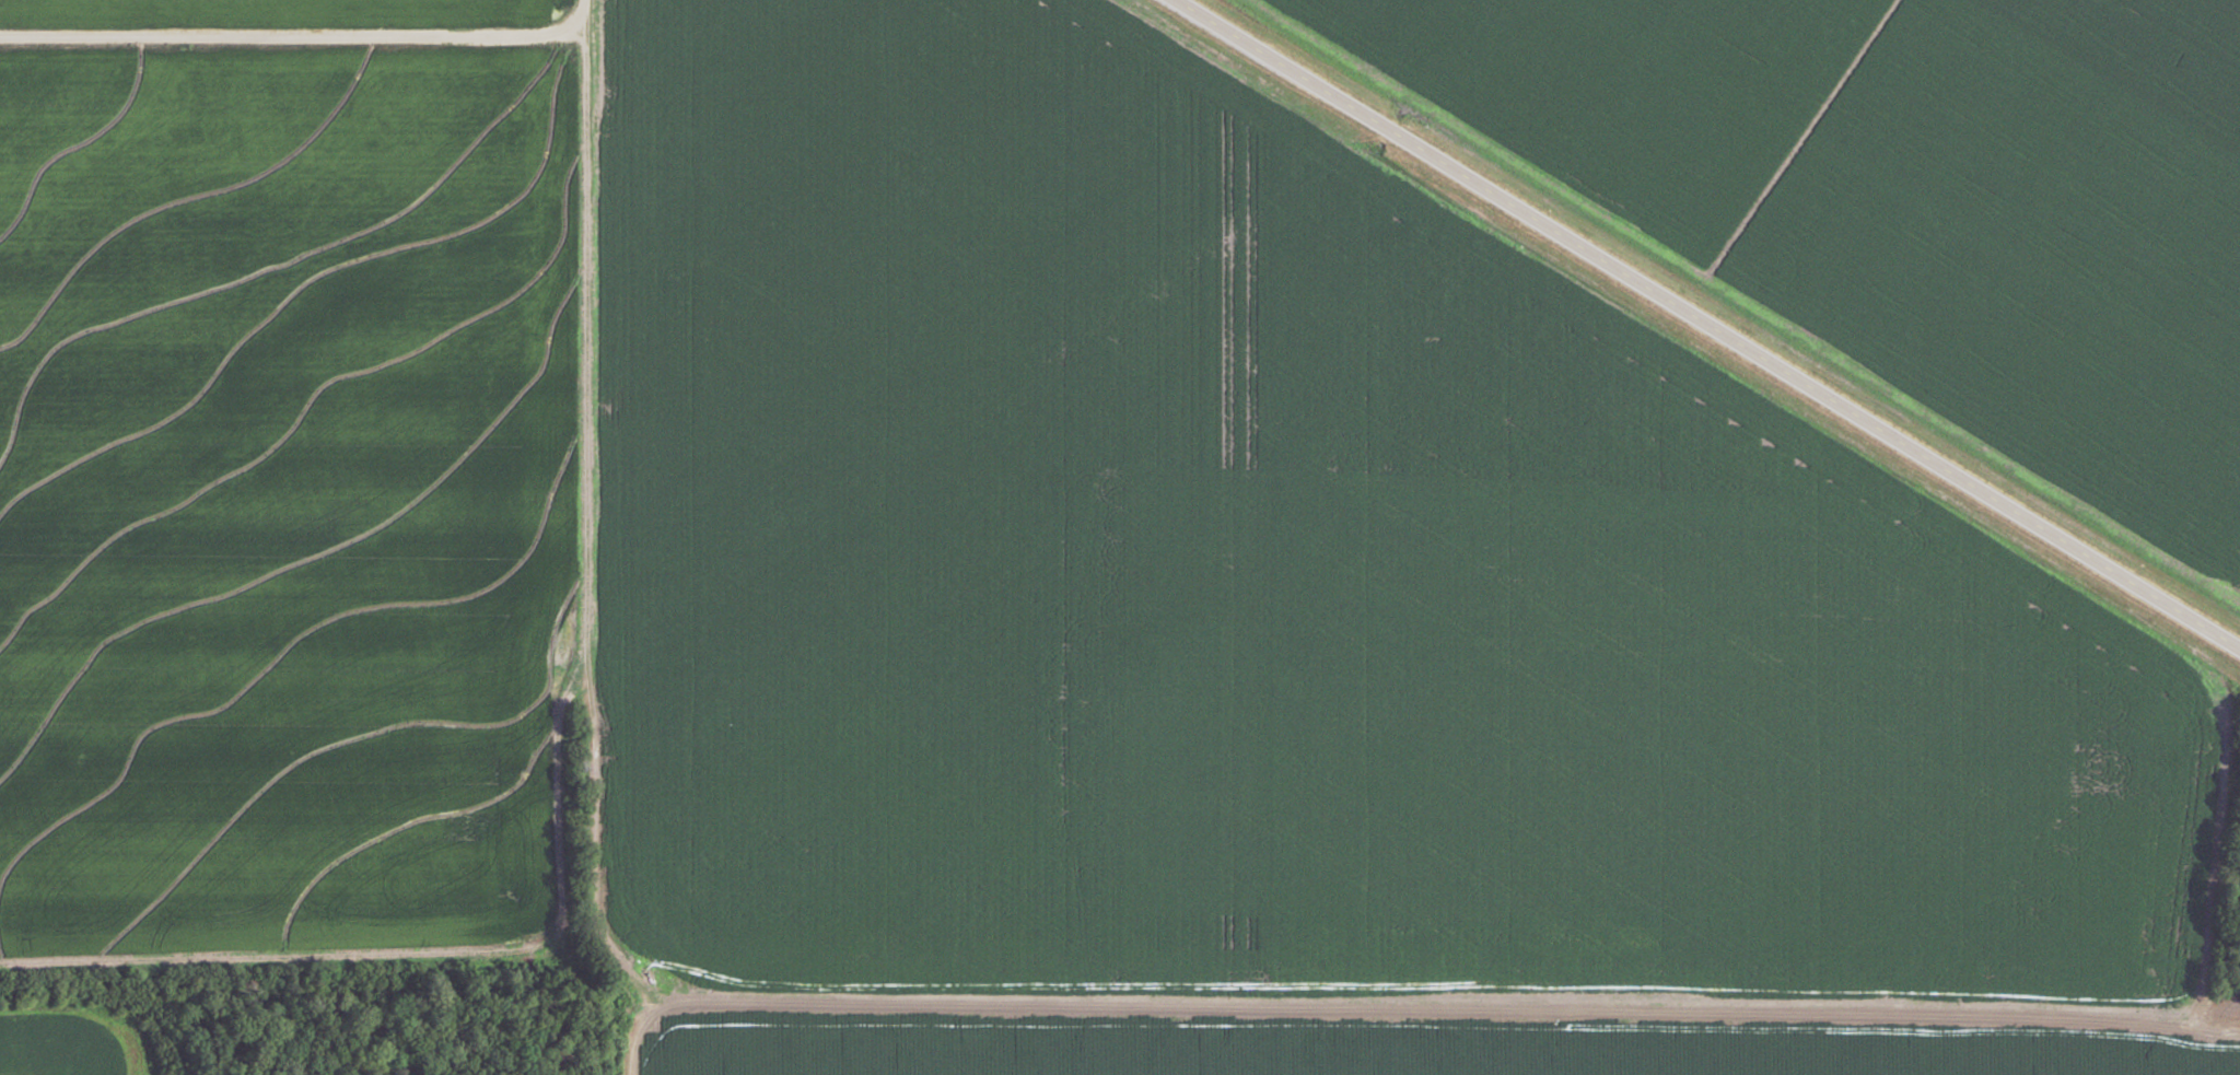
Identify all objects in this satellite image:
road: (1704, 325)

